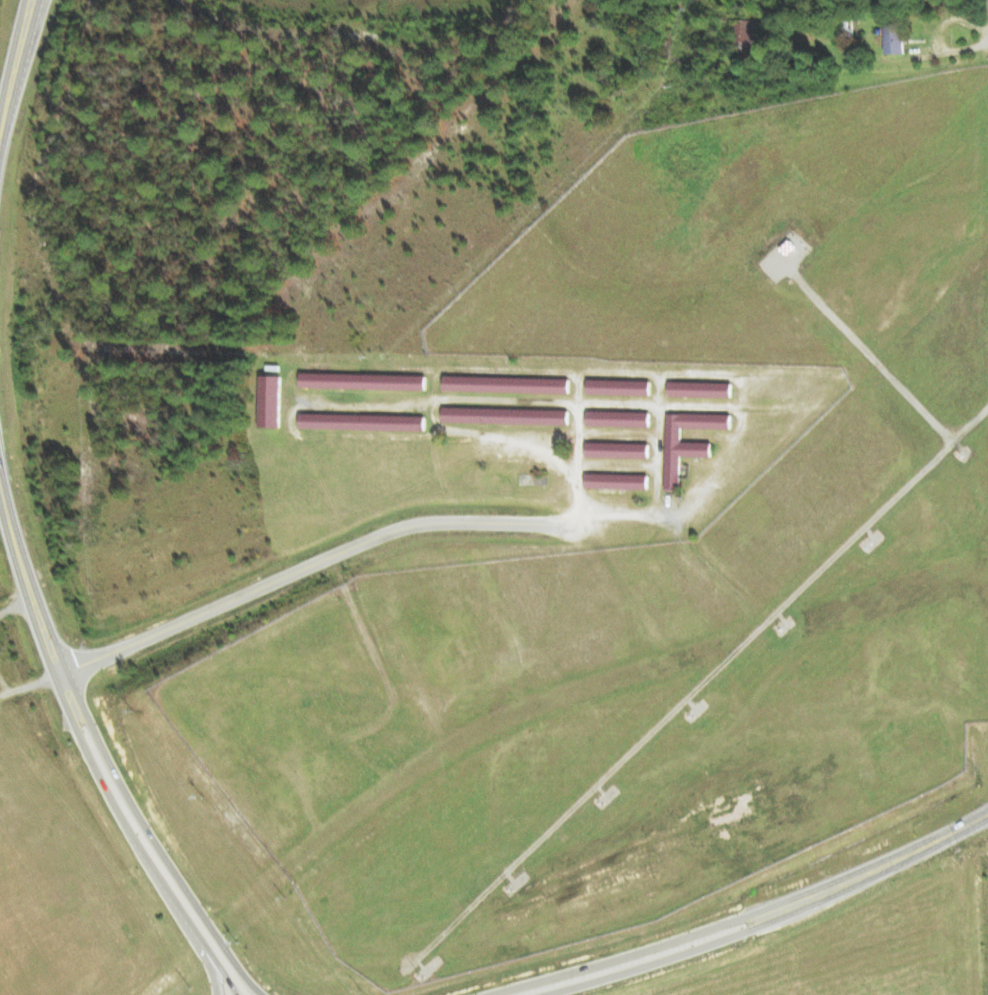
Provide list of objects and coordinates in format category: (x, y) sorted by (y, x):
building: (745, 34)
building: (896, 37)
road: (11, 94)
building: (363, 379)
building: (507, 383)
building: (620, 385)
building: (701, 387)
building: (272, 399)
building: (507, 414)
building: (618, 417)
building: (362, 420)
building: (689, 447)
building: (618, 448)
building: (617, 479)
road: (307, 565)
road: (74, 696)
road: (747, 911)
road: (204, 953)
road: (215, 953)
road: (230, 953)

